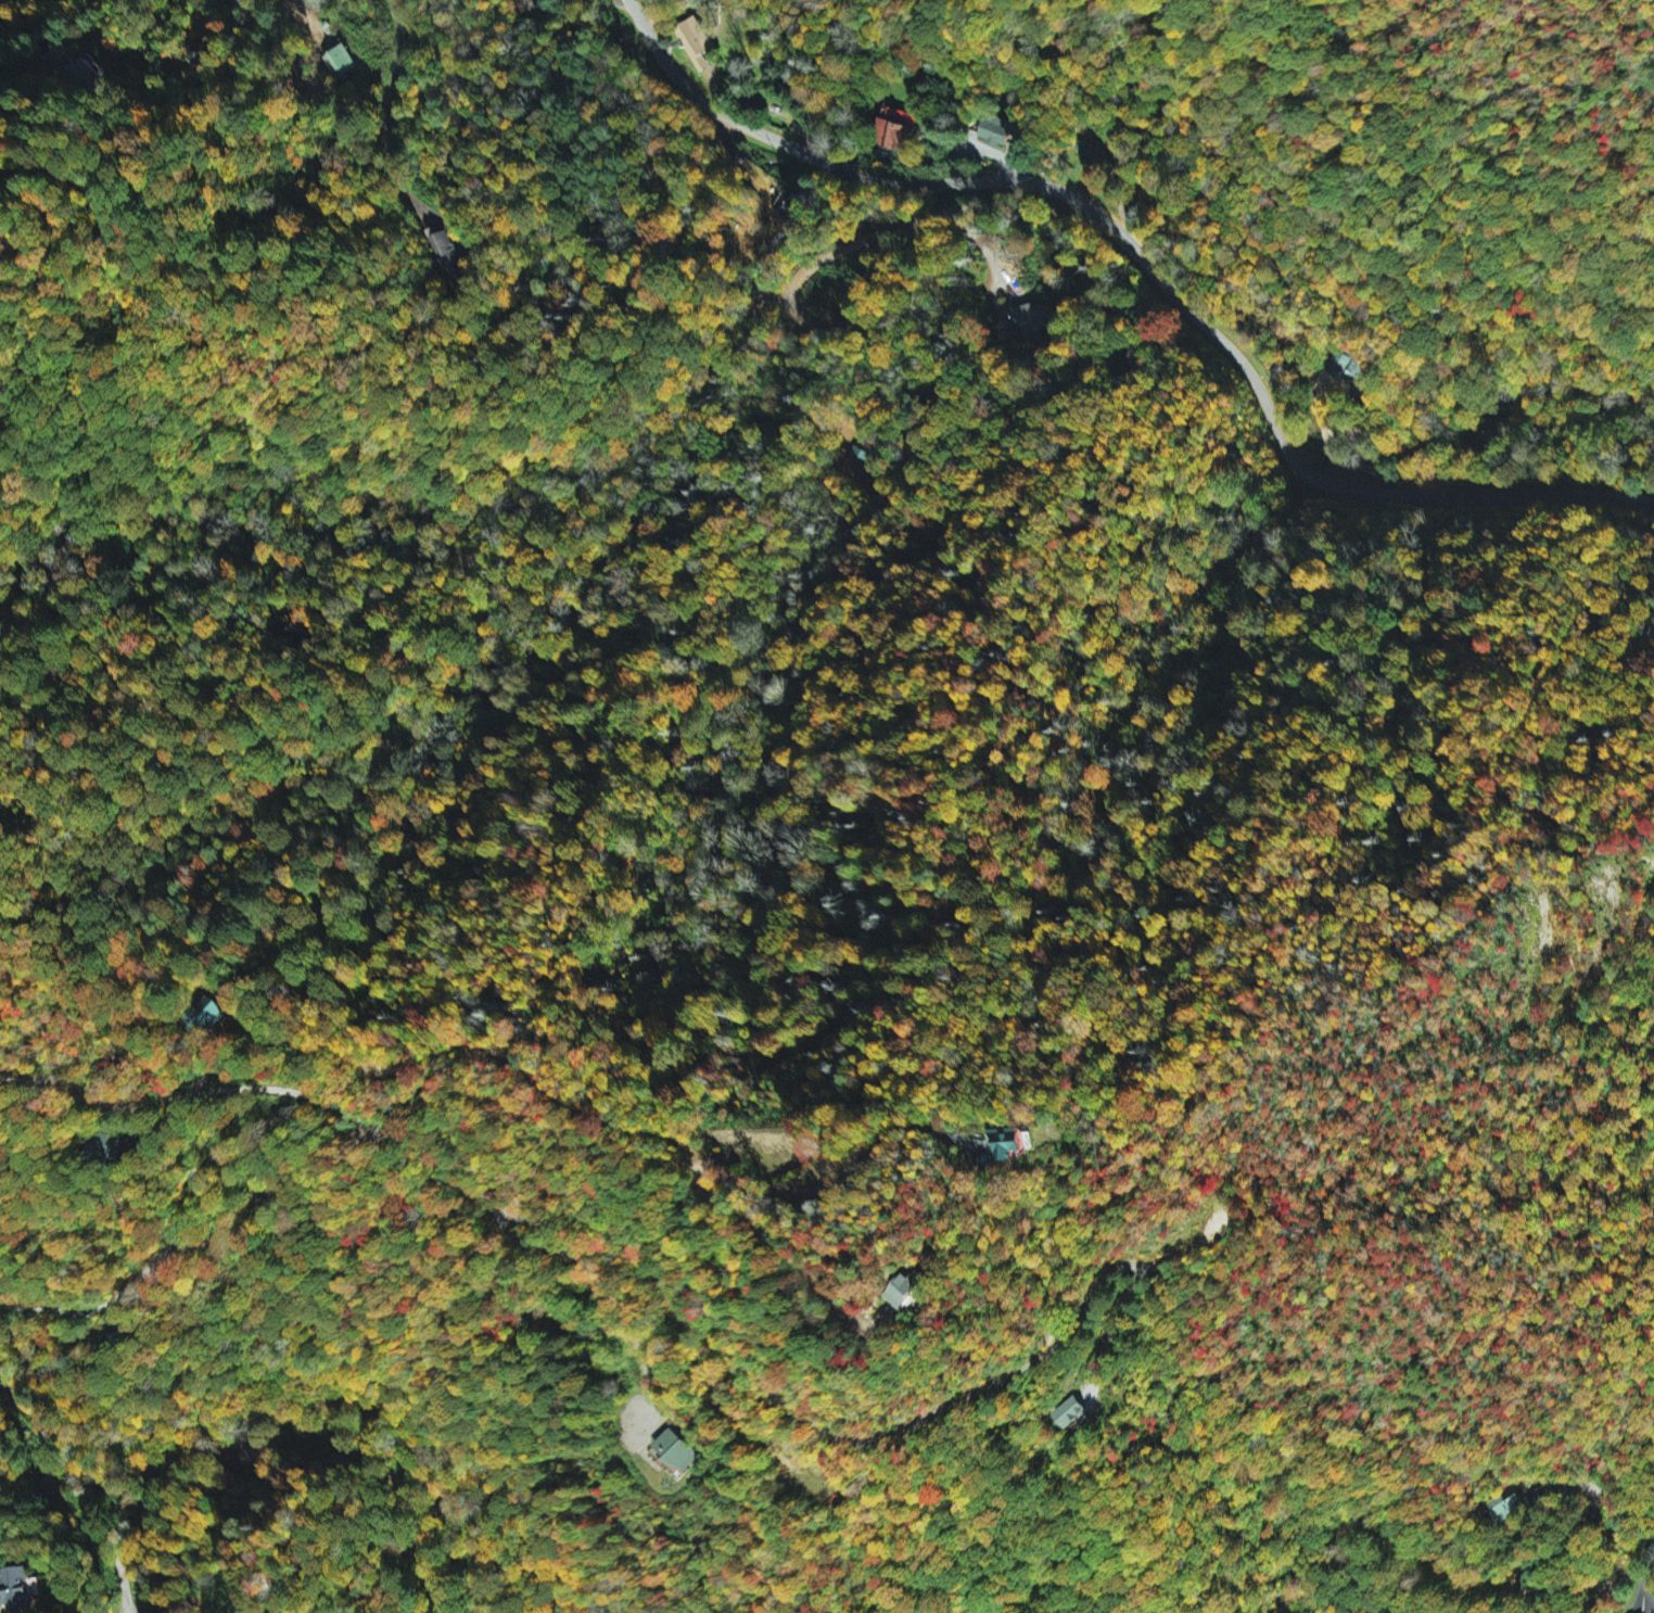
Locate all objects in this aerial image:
road: (622, 3)
building: (533, 4)
road: (253, 14)
building: (698, 42)
building: (344, 61)
road: (384, 111)
building: (898, 130)
building: (997, 132)
road: (28, 213)
building: (448, 255)
road: (1132, 259)
building: (1028, 313)
building: (1353, 371)
building: (861, 459)
road: (912, 512)
road: (1574, 994)
road: (186, 1093)
road: (330, 1121)
building: (1001, 1145)
building: (112, 1146)
road: (676, 1282)
building: (881, 1292)
building: (1071, 1413)
building: (676, 1452)
road: (60, 1497)
building: (1509, 1510)
road: (1551, 1555)
road: (1624, 1579)
building: (16, 1587)
road: (129, 1612)

